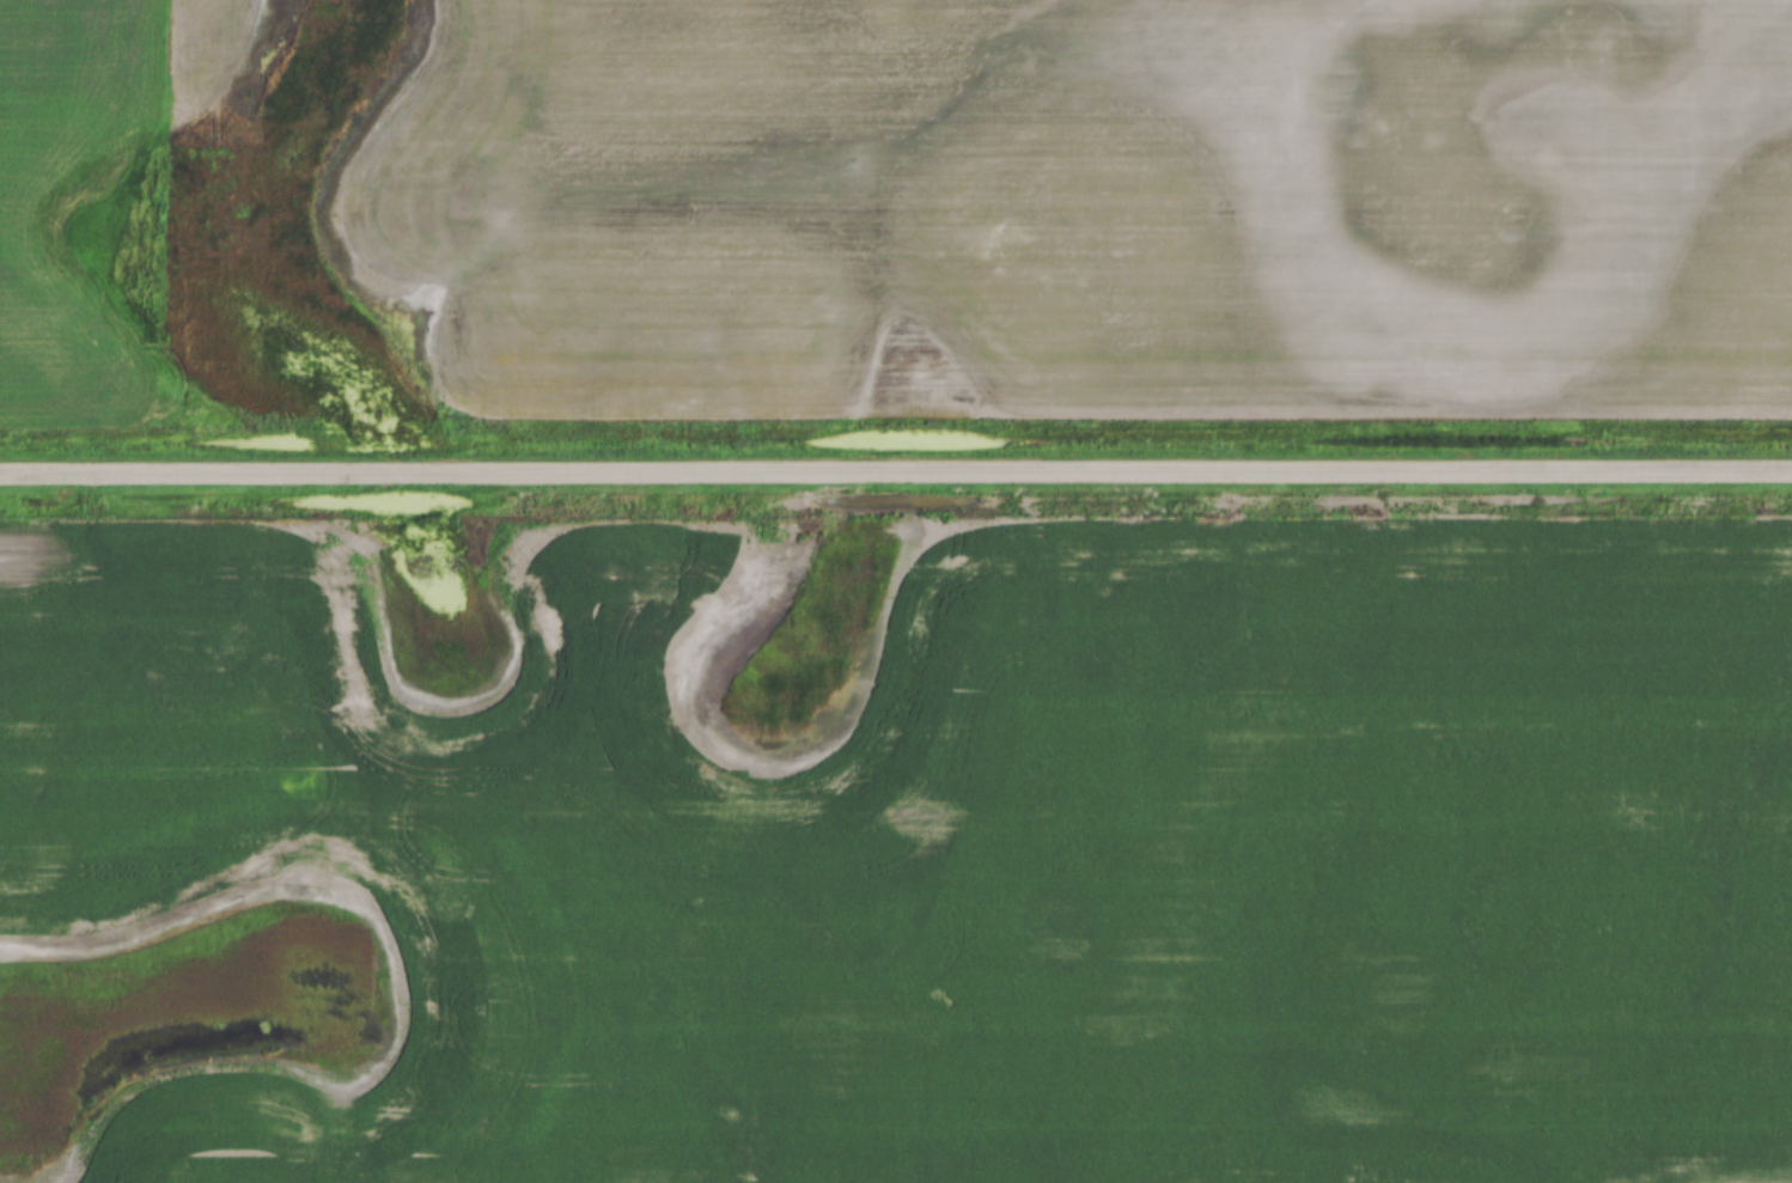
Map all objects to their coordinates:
road: (895, 472)

